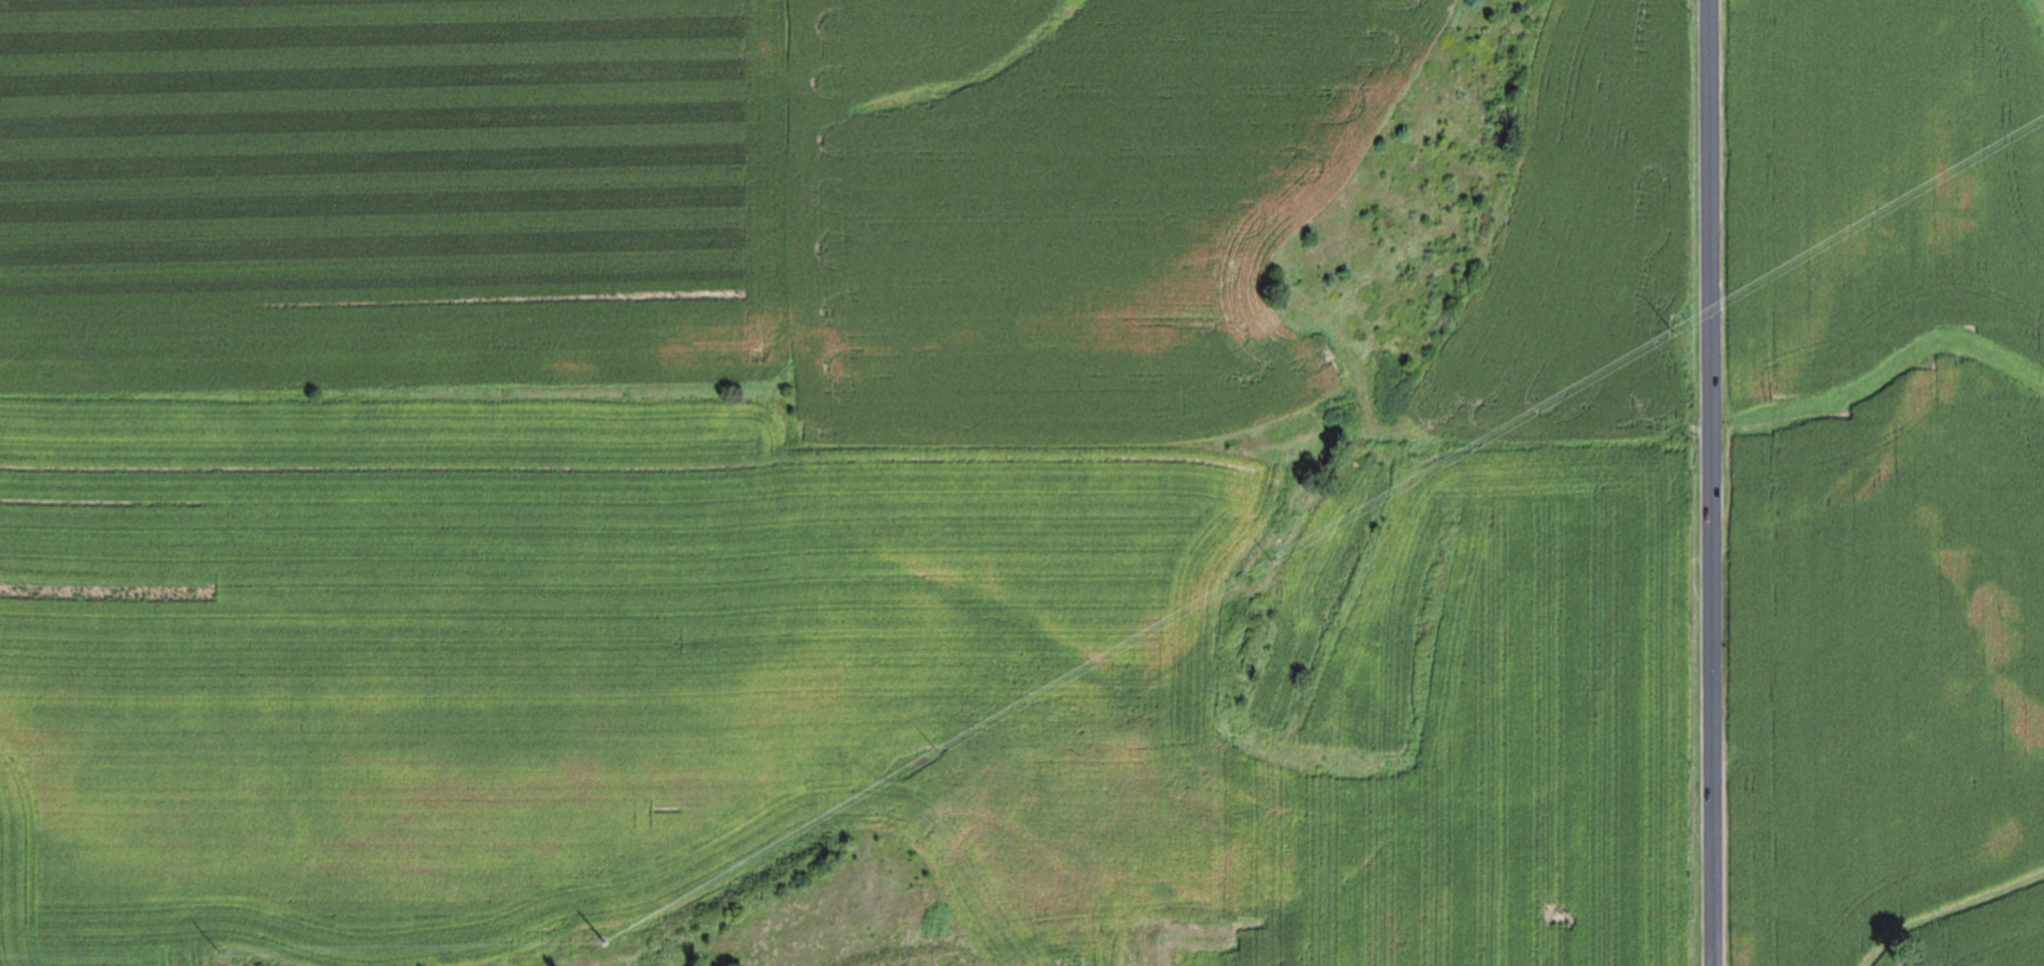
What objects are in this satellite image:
road: (1710, 482)

